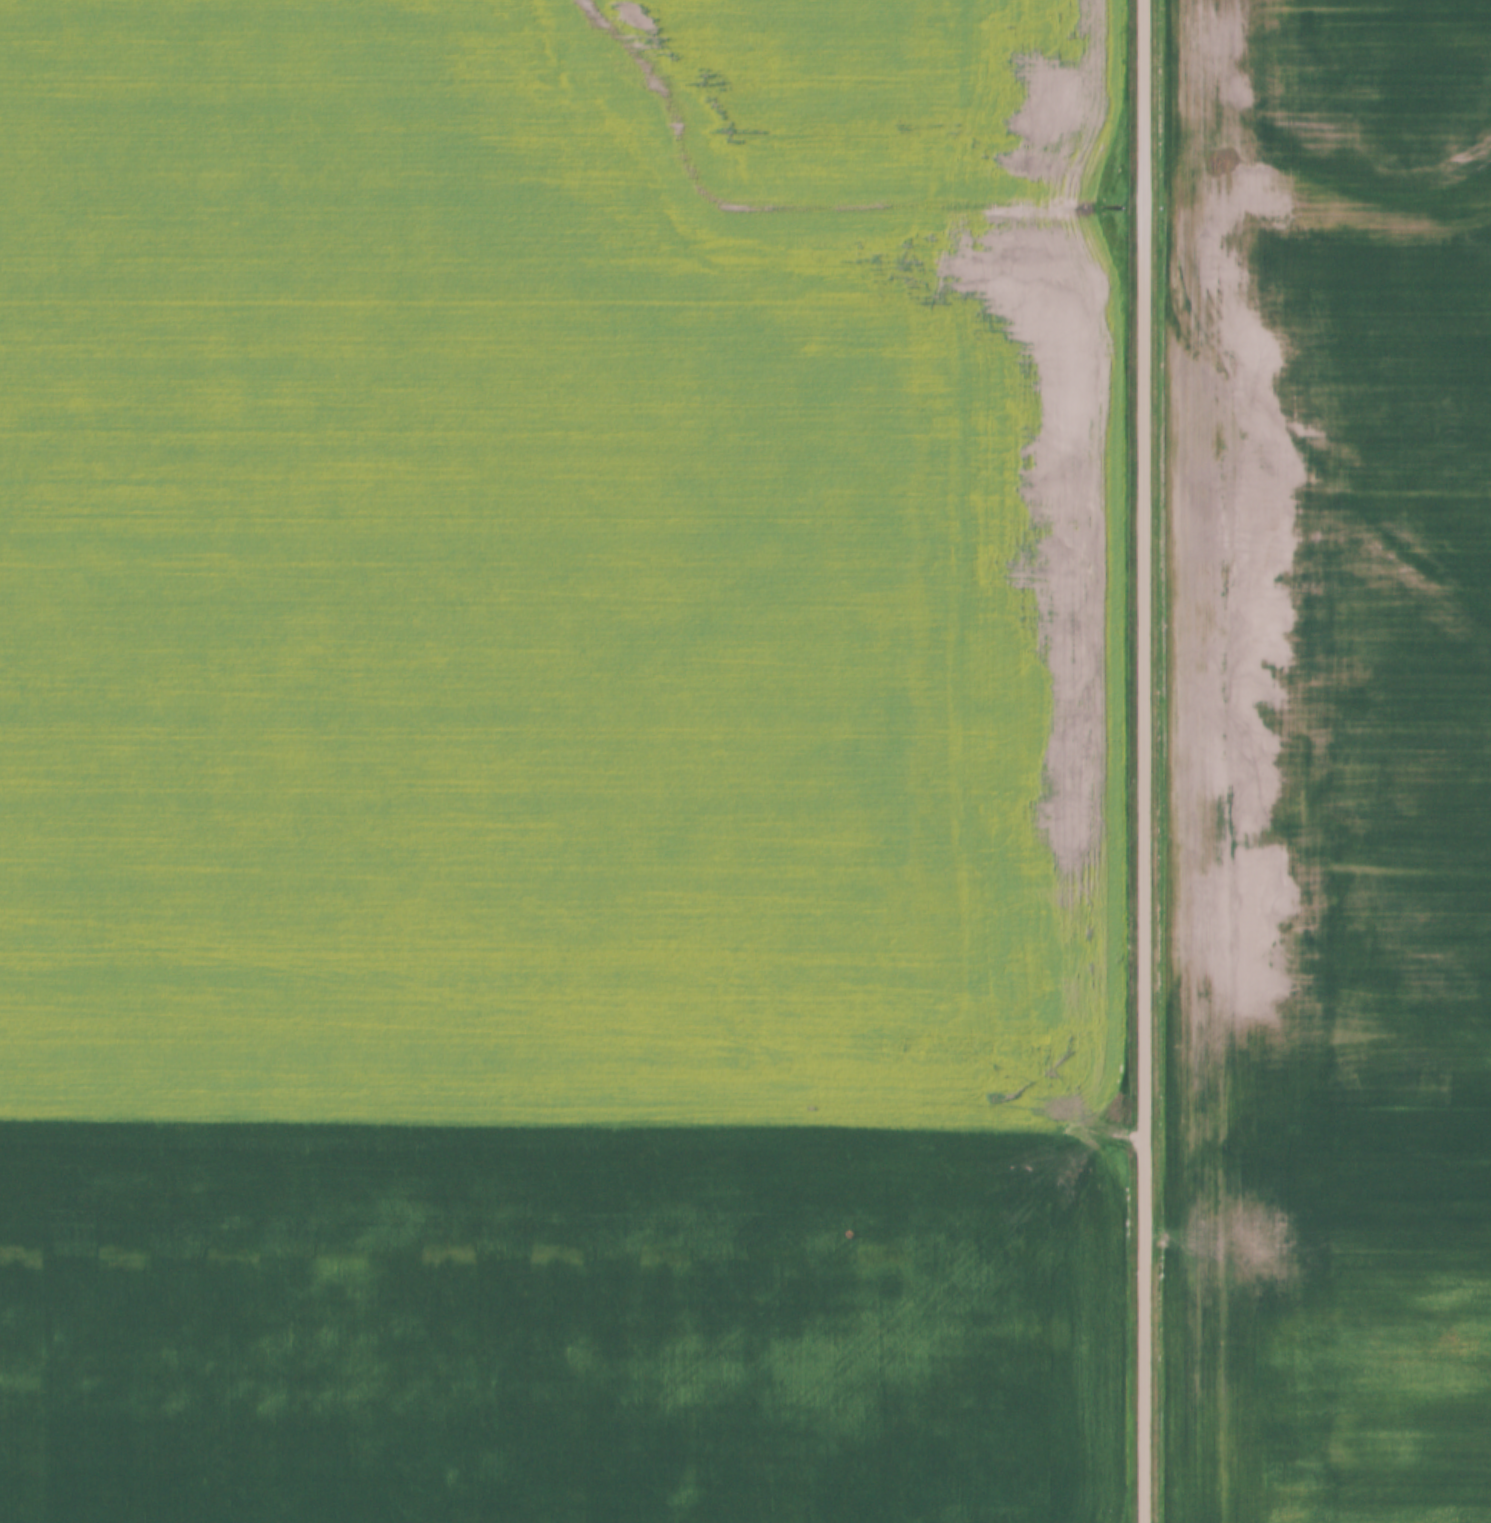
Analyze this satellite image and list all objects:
road: (1147, 761)

